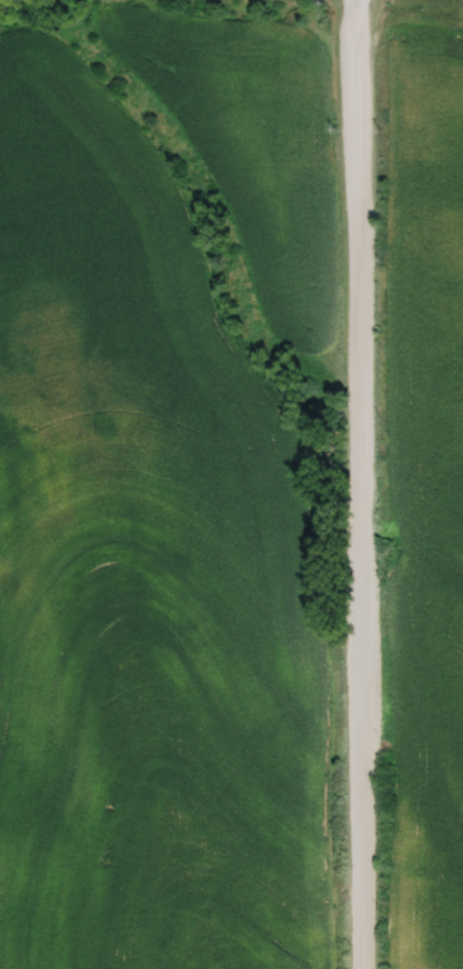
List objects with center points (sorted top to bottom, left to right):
crop: (250, 143)
road: (359, 484)
crop: (425, 493)
crop: (145, 574)

